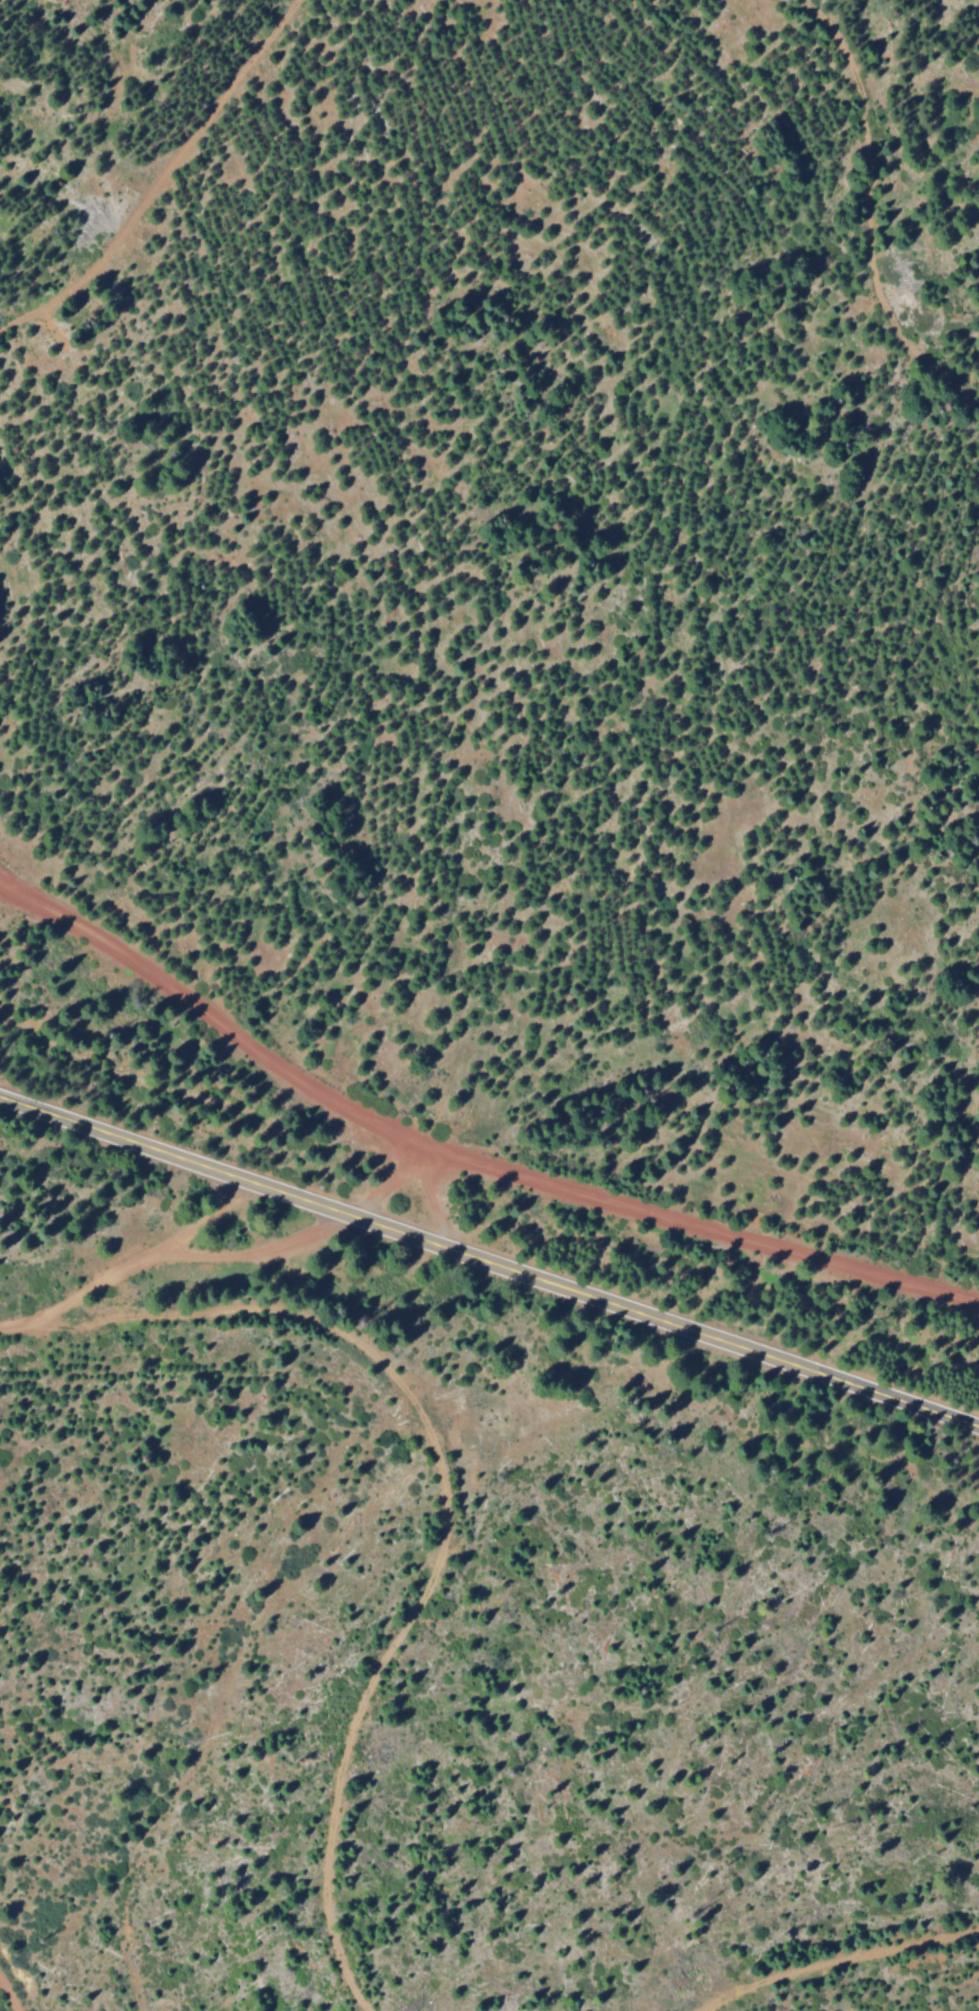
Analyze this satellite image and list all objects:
road: (158, 171)
road: (865, 217)
road: (243, 1038)
road: (690, 1221)
road: (489, 1258)
road: (445, 1497)
road: (836, 1961)
road: (8, 1996)

